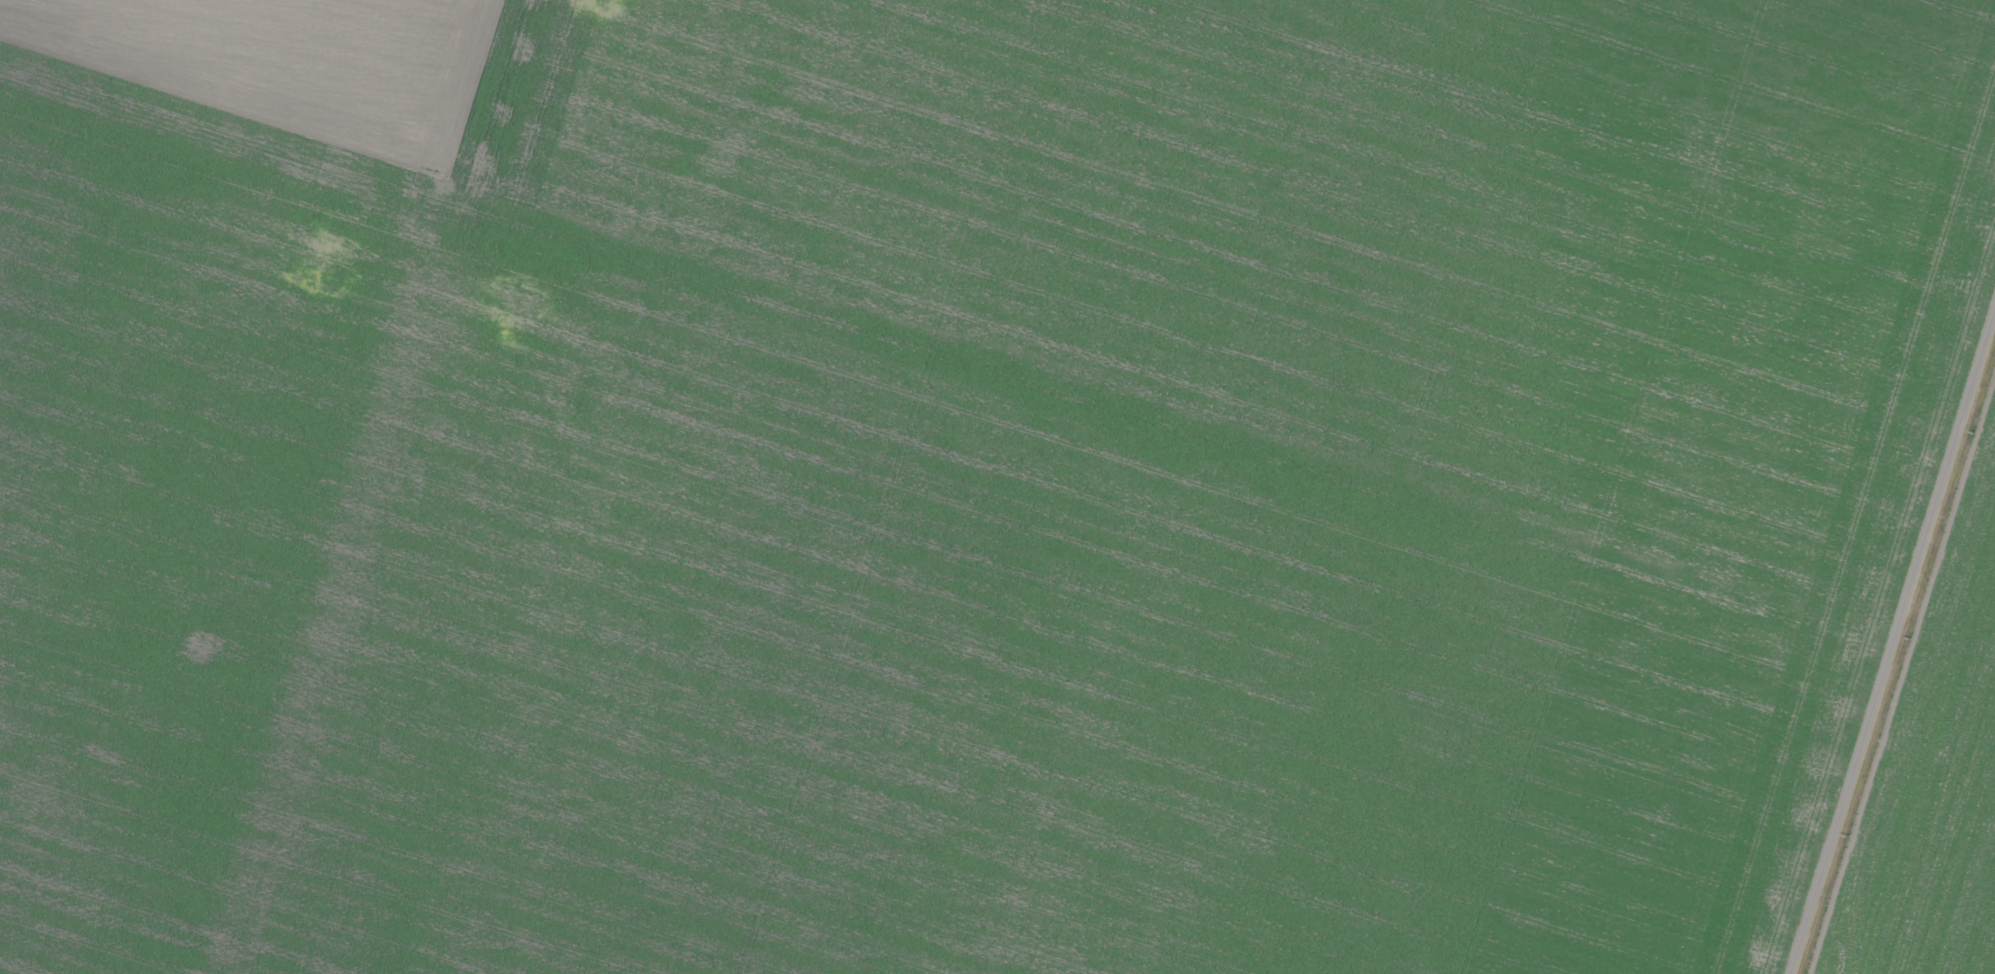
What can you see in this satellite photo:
road: (1911, 699)

